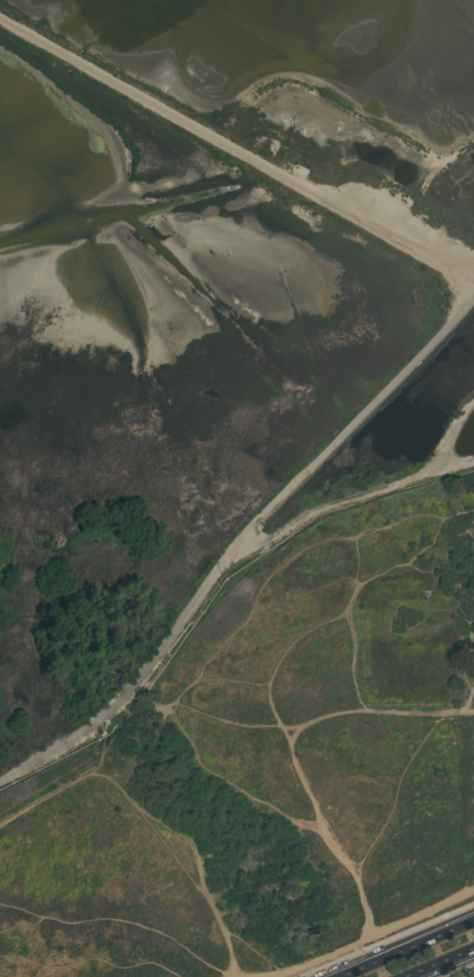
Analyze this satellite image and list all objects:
road: (236, 147)
road: (237, 547)
park: (465, 594)
road: (404, 948)
road: (439, 962)

